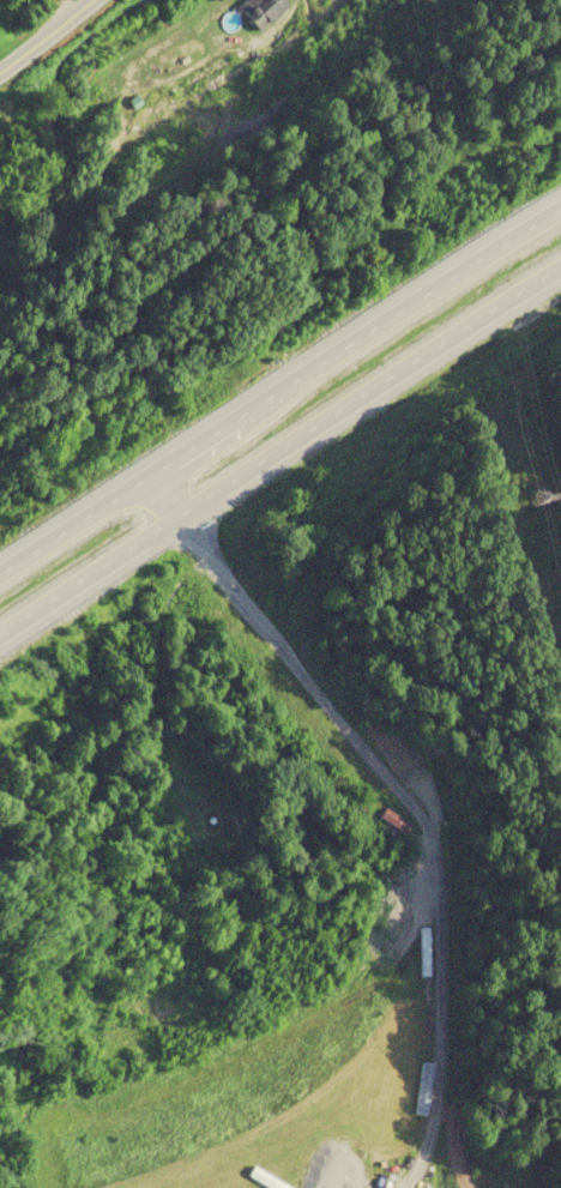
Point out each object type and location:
building: (263, 11)
road: (46, 36)
road: (279, 388)
road: (278, 452)
power tower: (538, 499)
road: (400, 794)

